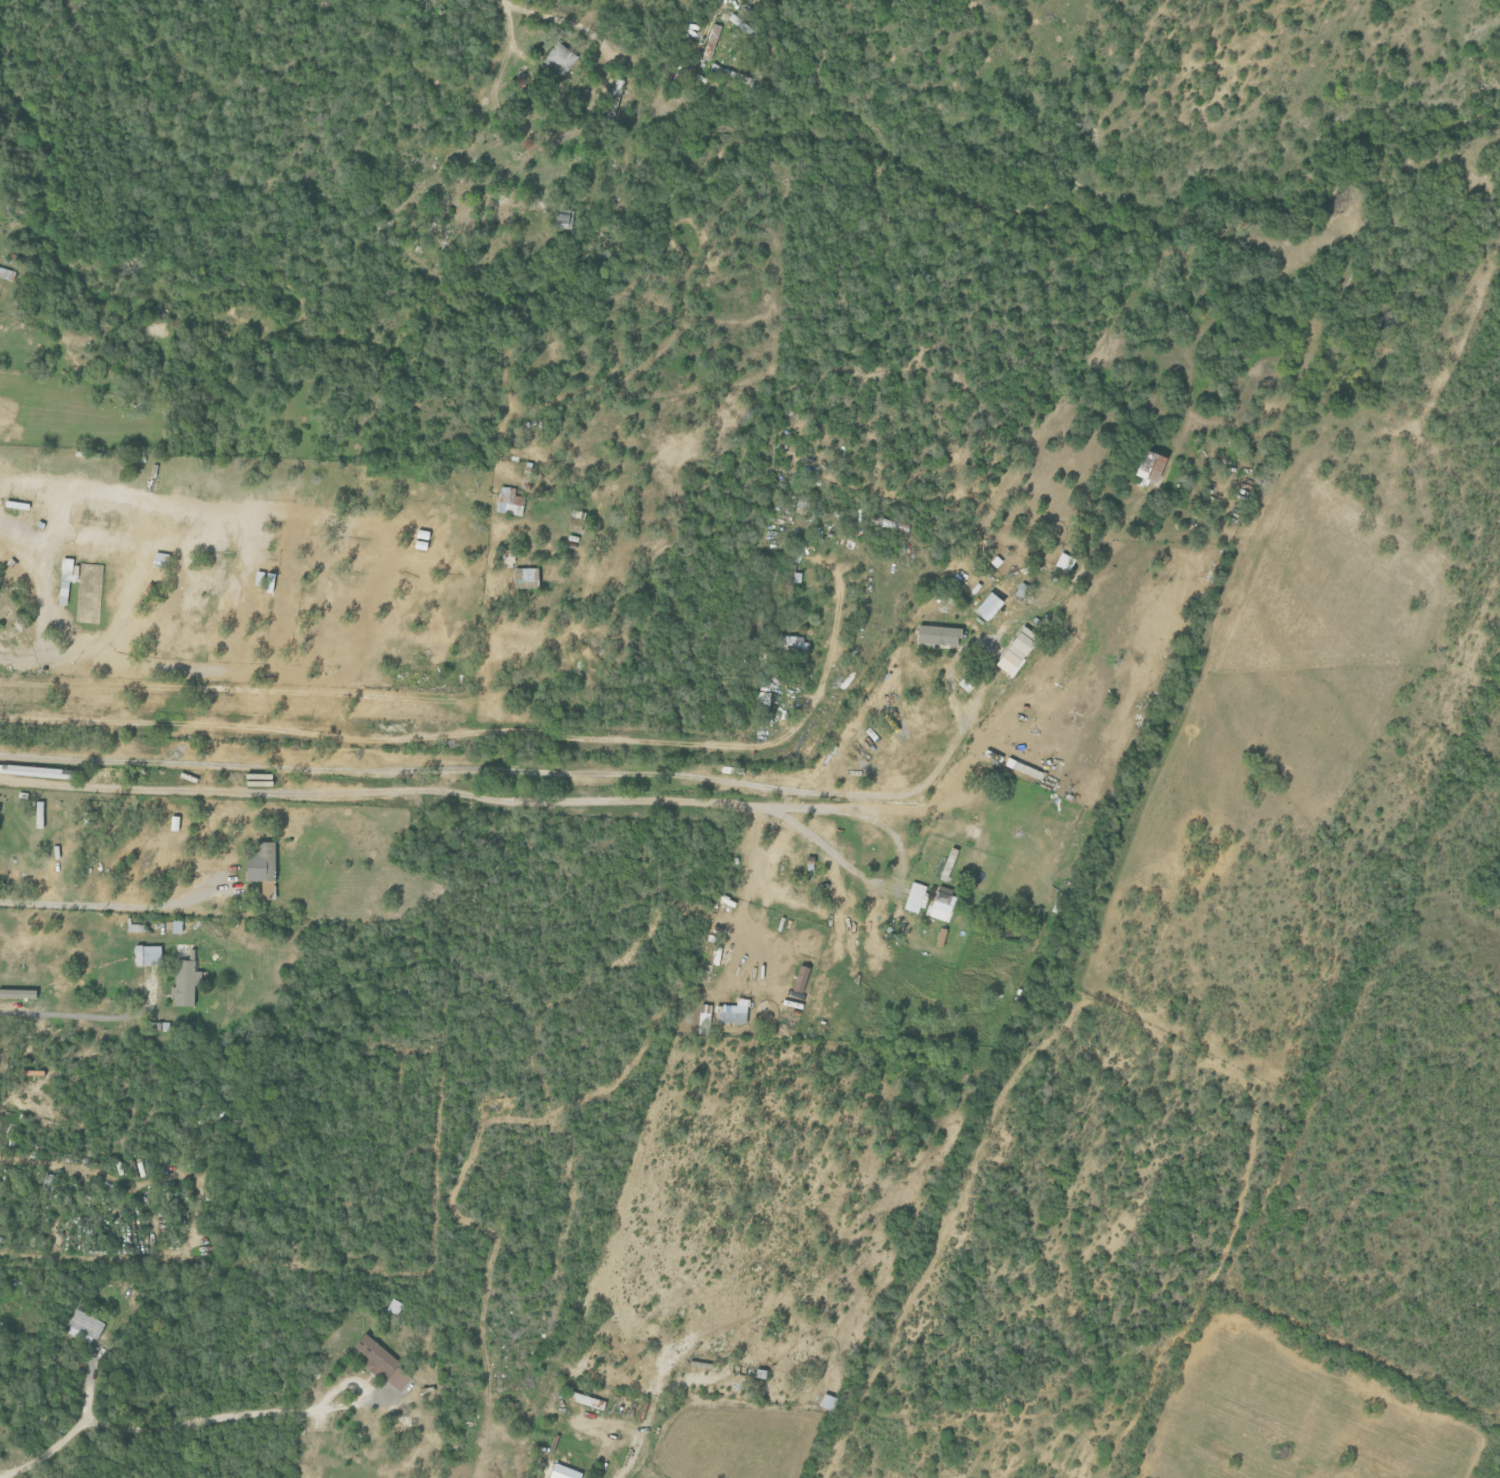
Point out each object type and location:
road: (718, 3)
road: (542, 14)
building: (711, 41)
building: (559, 58)
road: (495, 70)
building: (558, 220)
building: (4, 273)
building: (1147, 466)
building: (509, 501)
building: (575, 519)
road: (63, 535)
building: (1064, 562)
building: (524, 578)
building: (986, 606)
building: (936, 635)
building: (1015, 650)
road: (323, 692)
road: (490, 731)
road: (520, 770)
road: (391, 792)
building: (38, 814)
building: (173, 823)
road: (781, 843)
building: (261, 867)
road: (902, 869)
road: (750, 891)
building: (943, 895)
building: (914, 897)
road: (110, 905)
building: (938, 912)
building: (146, 954)
building: (799, 978)
building: (184, 982)
building: (16, 993)
road: (78, 1010)
building: (733, 1012)
building: (133, 1169)
building: (395, 1306)
building: (84, 1327)
building: (380, 1363)
building: (827, 1402)
road: (257, 1413)
road: (63, 1436)
road: (633, 1451)
building: (562, 1472)

